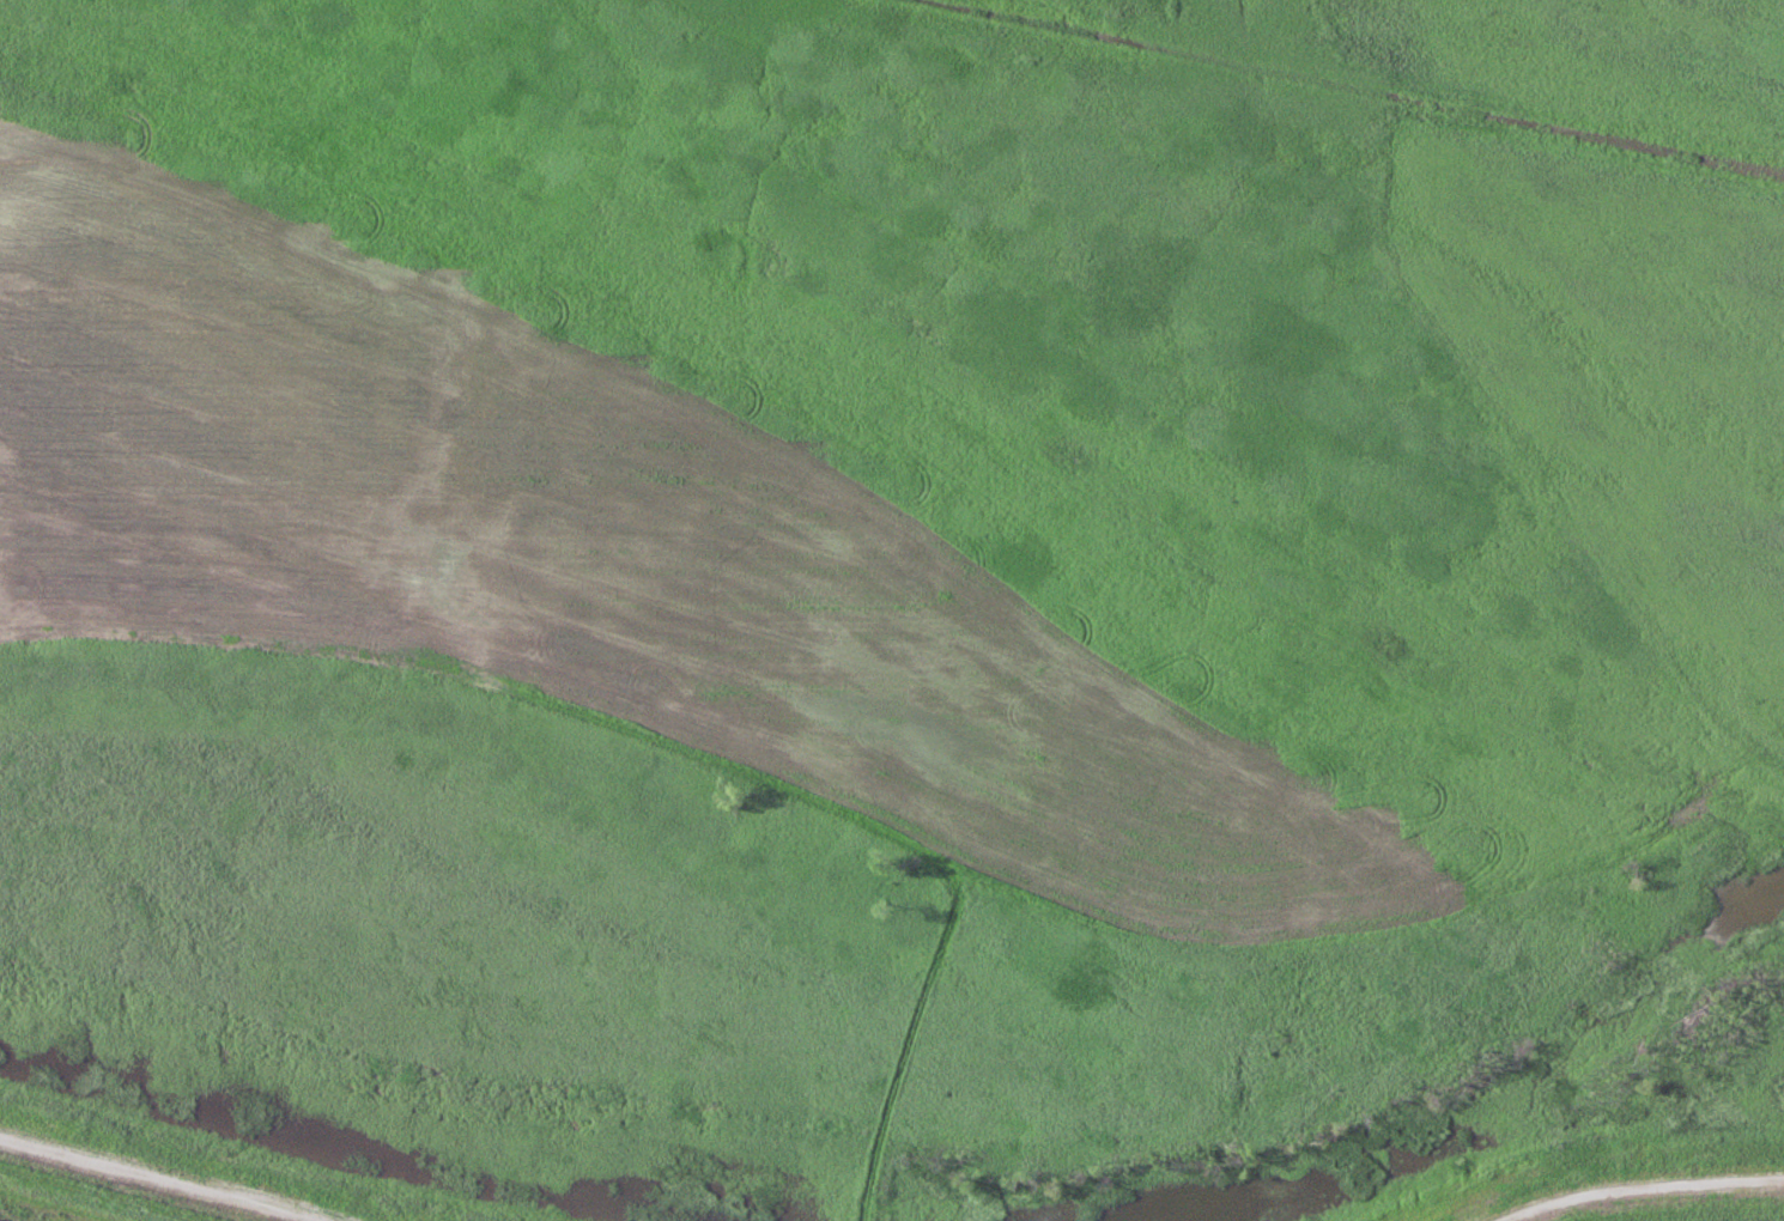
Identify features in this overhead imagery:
road: (147, 1181)
road: (1646, 1191)

